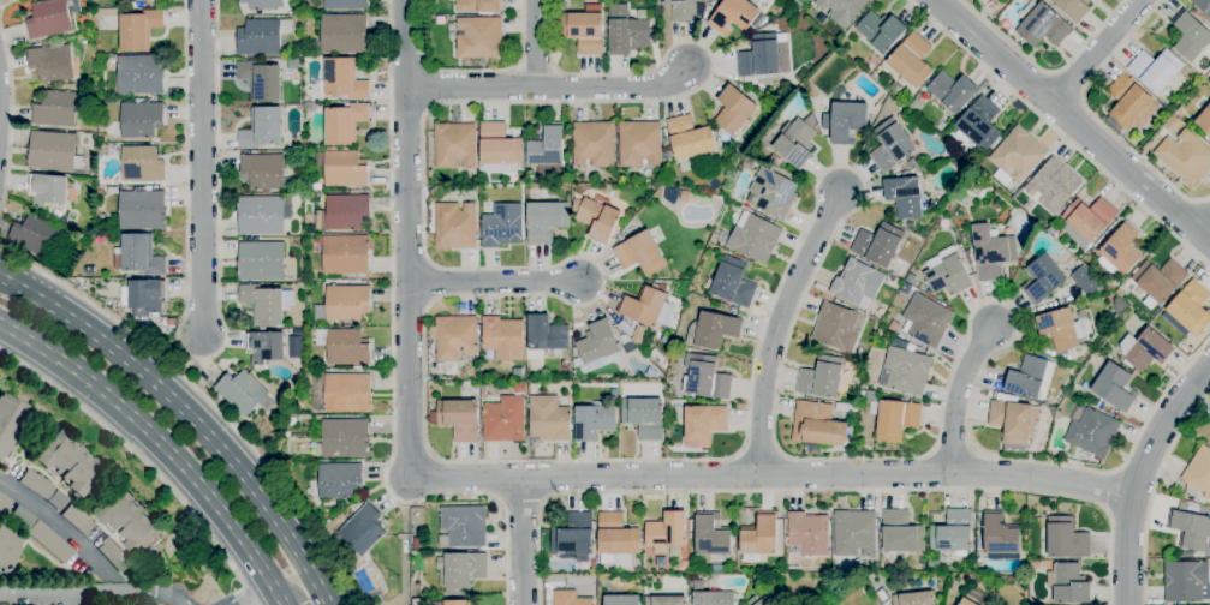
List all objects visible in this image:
building: (982, 1)
building: (991, 2)
building: (267, 4)
building: (346, 4)
building: (798, 4)
road: (5, 5)
building: (1203, 5)
building: (479, 6)
building: (1073, 7)
building: (680, 10)
building: (842, 10)
building: (733, 16)
building: (49, 19)
building: (1043, 26)
building: (138, 29)
building: (582, 31)
building: (880, 31)
building: (344, 34)
building: (628, 35)
building: (262, 36)
building: (1190, 36)
building: (479, 37)
road: (535, 43)
road: (1097, 52)
building: (764, 56)
building: (911, 60)
building: (52, 62)
building: (1155, 70)
road: (470, 71)
road: (1044, 71)
building: (141, 74)
building: (344, 79)
building: (261, 80)
road: (549, 86)
building: (952, 91)
building: (1129, 102)
building: (914, 104)
building: (310, 107)
building: (56, 108)
building: (734, 109)
building: (1181, 112)
road: (11, 116)
road: (1093, 116)
building: (141, 118)
road: (1072, 120)
building: (1204, 120)
building: (845, 121)
building: (345, 122)
building: (978, 125)
building: (1173, 125)
building: (262, 127)
road: (1059, 133)
building: (690, 138)
building: (797, 142)
building: (594, 144)
building: (639, 144)
building: (454, 145)
building: (546, 145)
building: (890, 145)
building: (720, 146)
building: (500, 149)
building: (54, 151)
building: (1017, 156)
building: (1185, 157)
building: (774, 160)
building: (142, 164)
road: (202, 168)
building: (345, 168)
building: (263, 170)
building: (317, 186)
building: (1051, 186)
building: (48, 190)
building: (773, 193)
building: (905, 196)
building: (684, 197)
building: (143, 210)
building: (346, 211)
building: (58, 214)
building: (261, 215)
building: (596, 217)
building: (546, 221)
building: (1086, 221)
building: (944, 223)
building: (910, 224)
building: (454, 226)
building: (502, 226)
road: (1204, 227)
building: (1054, 229)
building: (35, 235)
building: (752, 236)
building: (714, 238)
road: (406, 239)
building: (877, 244)
building: (1120, 251)
building: (991, 252)
building: (640, 253)
building: (138, 254)
building: (345, 254)
building: (261, 260)
building: (947, 275)
building: (1043, 280)
building: (1085, 281)
building: (1158, 281)
road: (493, 282)
building: (732, 282)
building: (857, 282)
building: (143, 296)
building: (344, 302)
building: (267, 304)
building: (1120, 305)
building: (648, 306)
building: (1188, 309)
building: (925, 321)
building: (171, 322)
building: (836, 327)
road: (776, 328)
building: (627, 329)
building: (1060, 329)
building: (711, 330)
building: (639, 335)
building: (544, 336)
building: (455, 337)
building: (502, 337)
building: (624, 339)
building: (667, 340)
building: (344, 346)
building: (597, 346)
building: (266, 347)
building: (1145, 349)
road: (392, 358)
road: (201, 359)
building: (451, 369)
building: (905, 371)
building: (518, 372)
building: (568, 376)
building: (822, 377)
building: (708, 378)
building: (1031, 378)
building: (520, 387)
building: (1114, 387)
building: (242, 391)
building: (348, 393)
road: (960, 394)
road: (205, 399)
building: (435, 406)
road: (180, 414)
building: (431, 417)
building: (644, 418)
building: (894, 418)
building: (459, 419)
building: (503, 419)
building: (549, 419)
building: (10, 421)
building: (292, 421)
building: (592, 421)
building: (1013, 424)
building: (703, 425)
building: (817, 425)
building: (1092, 432)
building: (346, 438)
road: (157, 447)
road: (687, 460)
road: (143, 461)
building: (68, 462)
building: (1199, 471)
road: (771, 475)
road: (1139, 475)
building: (339, 480)
building: (36, 484)
road: (819, 491)
road: (1109, 492)
road: (1154, 492)
building: (4, 503)
road: (54, 517)
building: (77, 519)
building: (338, 520)
building: (130, 521)
building: (463, 526)
building: (363, 529)
building: (1191, 529)
building: (667, 532)
building: (952, 532)
building: (809, 533)
building: (854, 533)
building: (901, 533)
building: (573, 535)
building: (711, 535)
building: (1000, 535)
building: (616, 537)
building: (759, 537)
building: (1066, 539)
building: (49, 540)
road: (521, 541)
building: (416, 543)
building: (781, 547)
building: (7, 549)
building: (113, 555)
building: (685, 564)
building: (716, 569)
building: (835, 569)
building: (461, 571)
building: (756, 580)
building: (1185, 581)
building: (1068, 583)
road: (297, 591)
road: (257, 594)
building: (882, 595)
road: (95, 598)
building: (568, 598)
building: (714, 598)
building: (765, 598)
building: (914, 598)
road: (323, 599)
building: (622, 600)
building: (666, 600)
road: (68, 601)
building: (415, 601)
building: (966, 601)
building: (458, 603)

